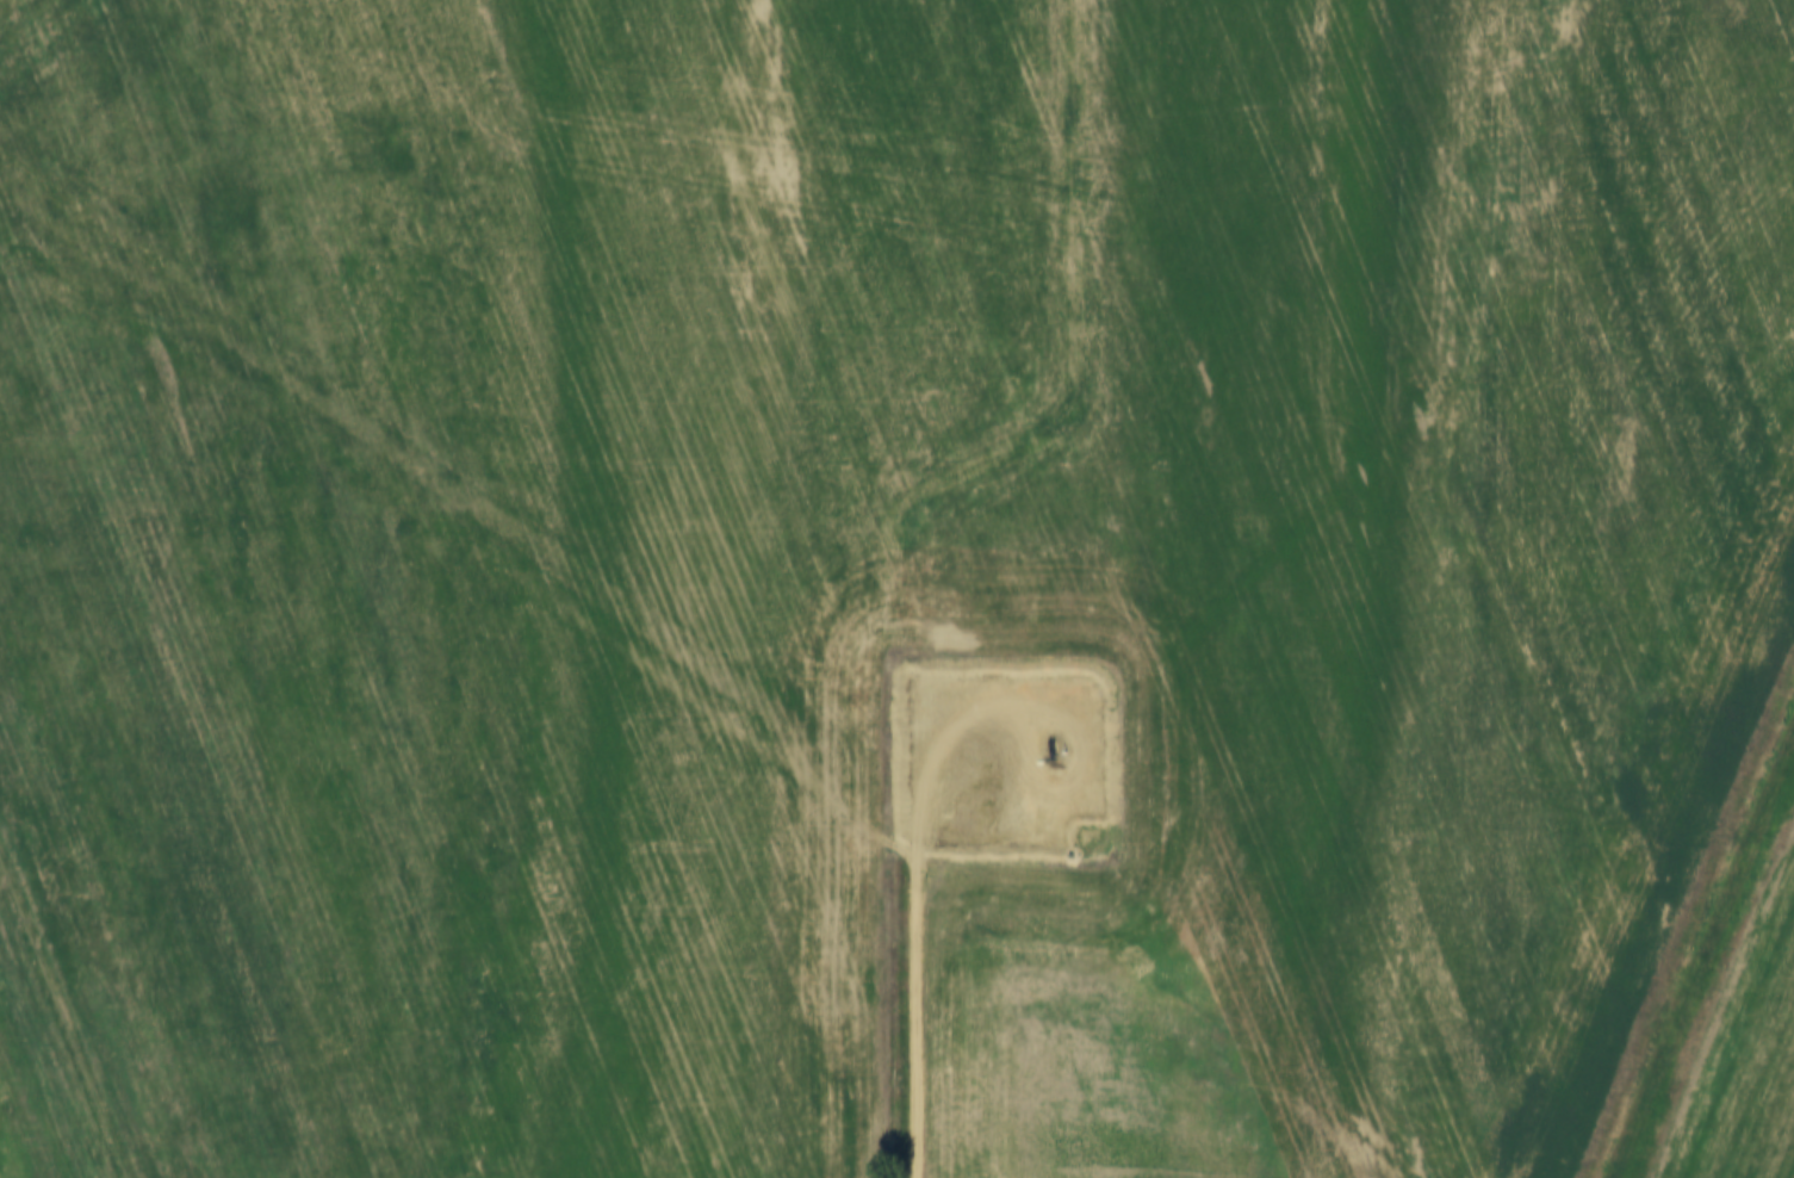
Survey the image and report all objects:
road: (920, 930)

